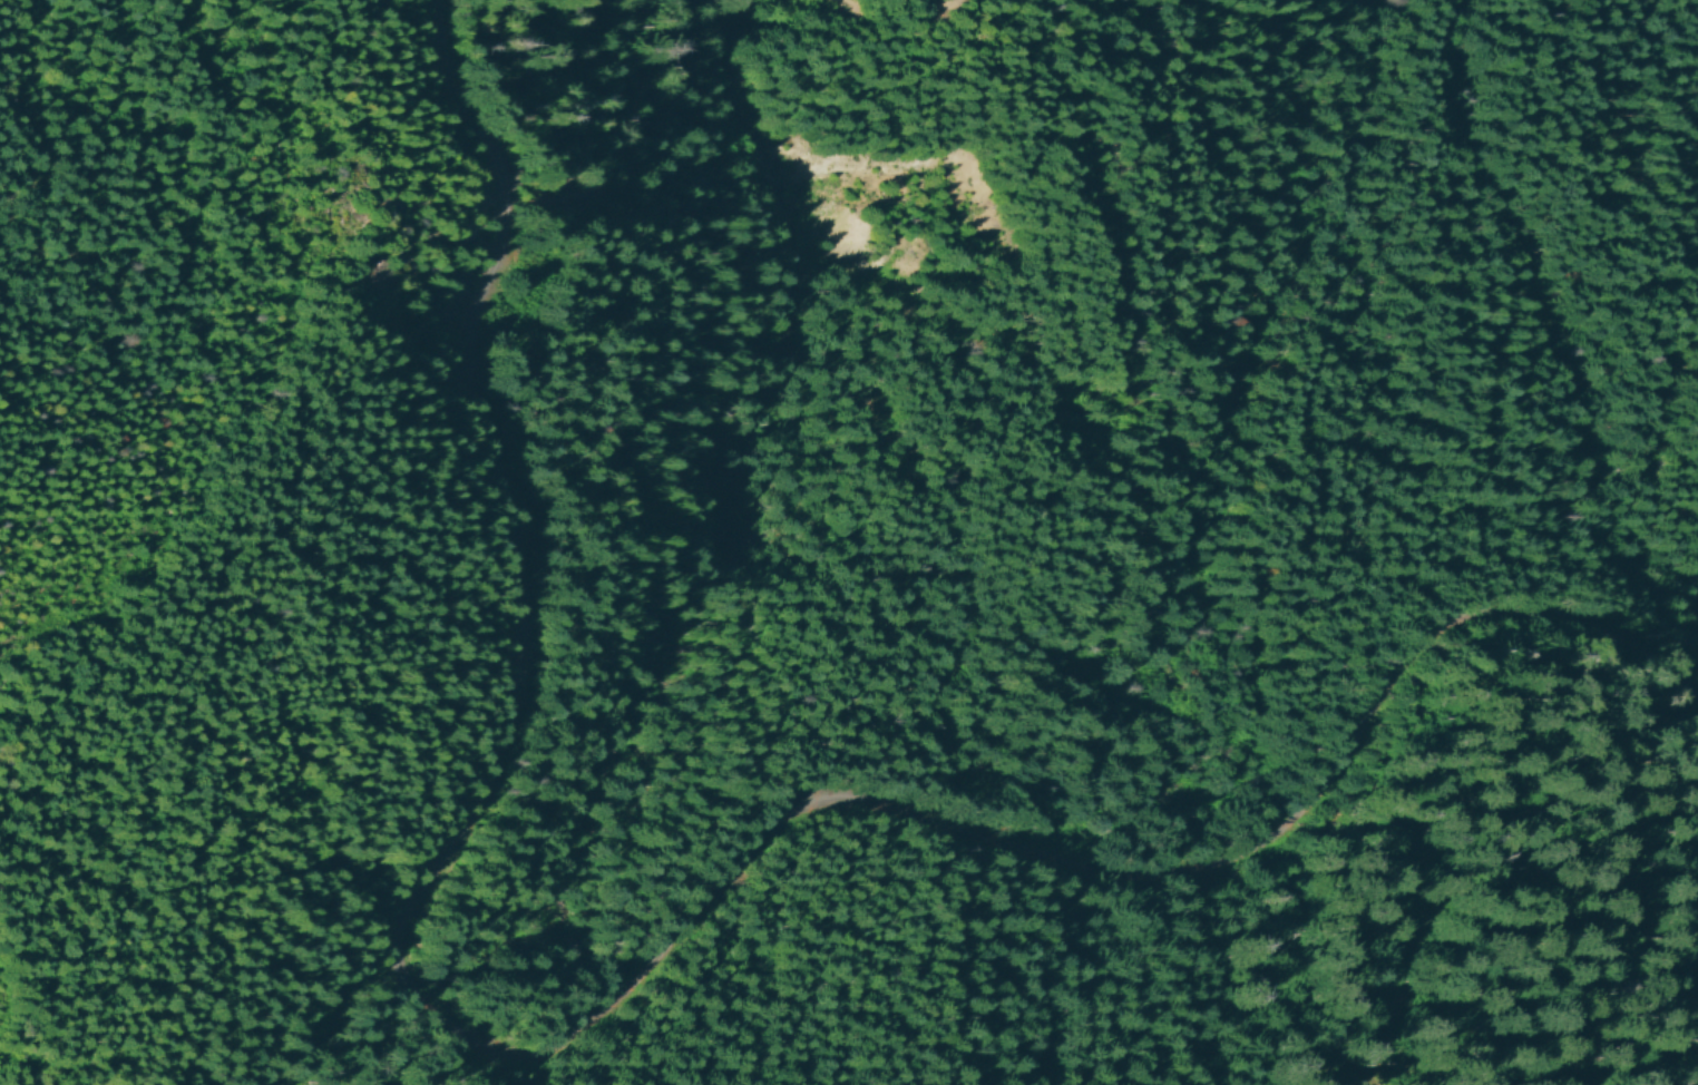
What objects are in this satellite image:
road: (611, 994)

